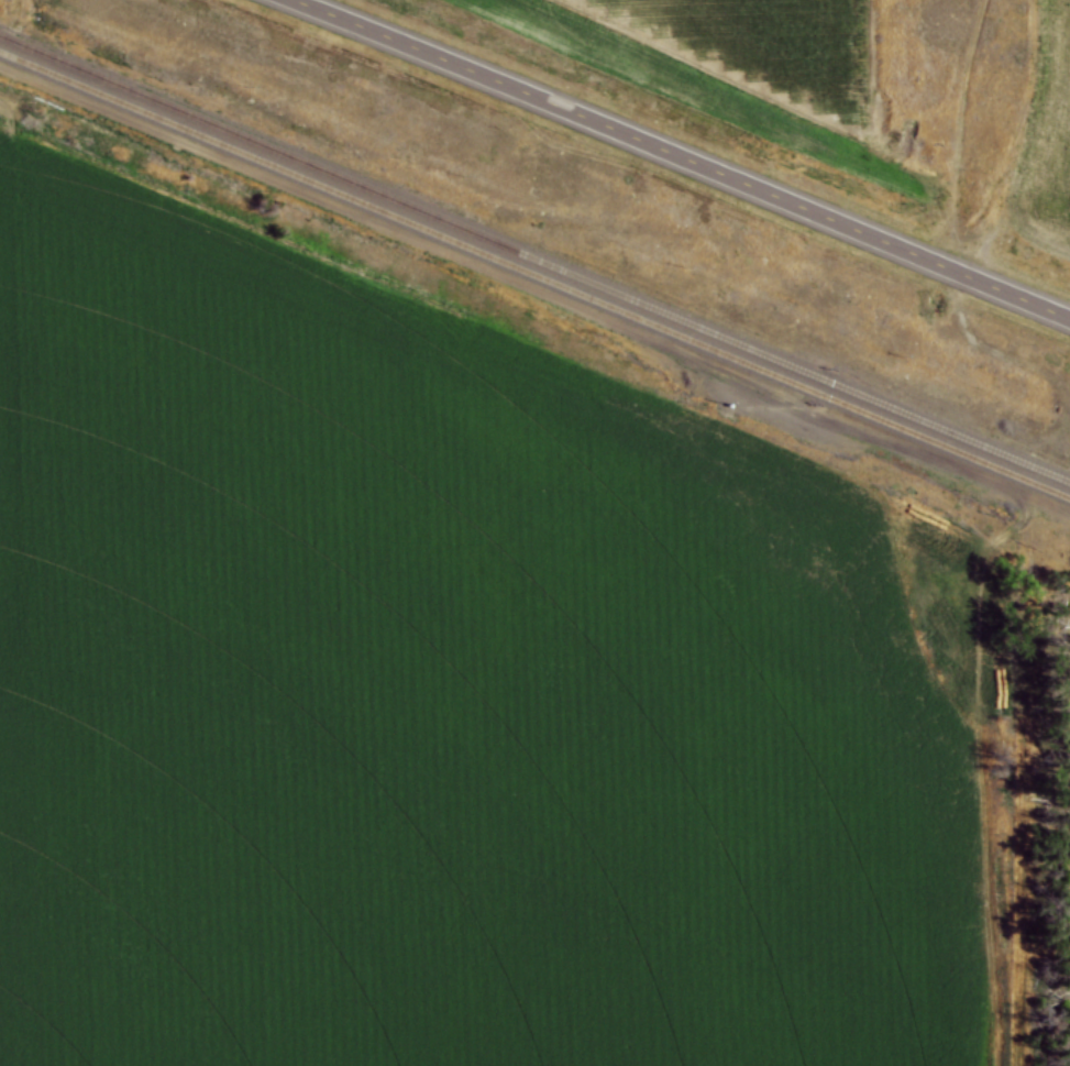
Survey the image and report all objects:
road: (682, 157)
railway: (534, 257)
railway: (534, 274)

